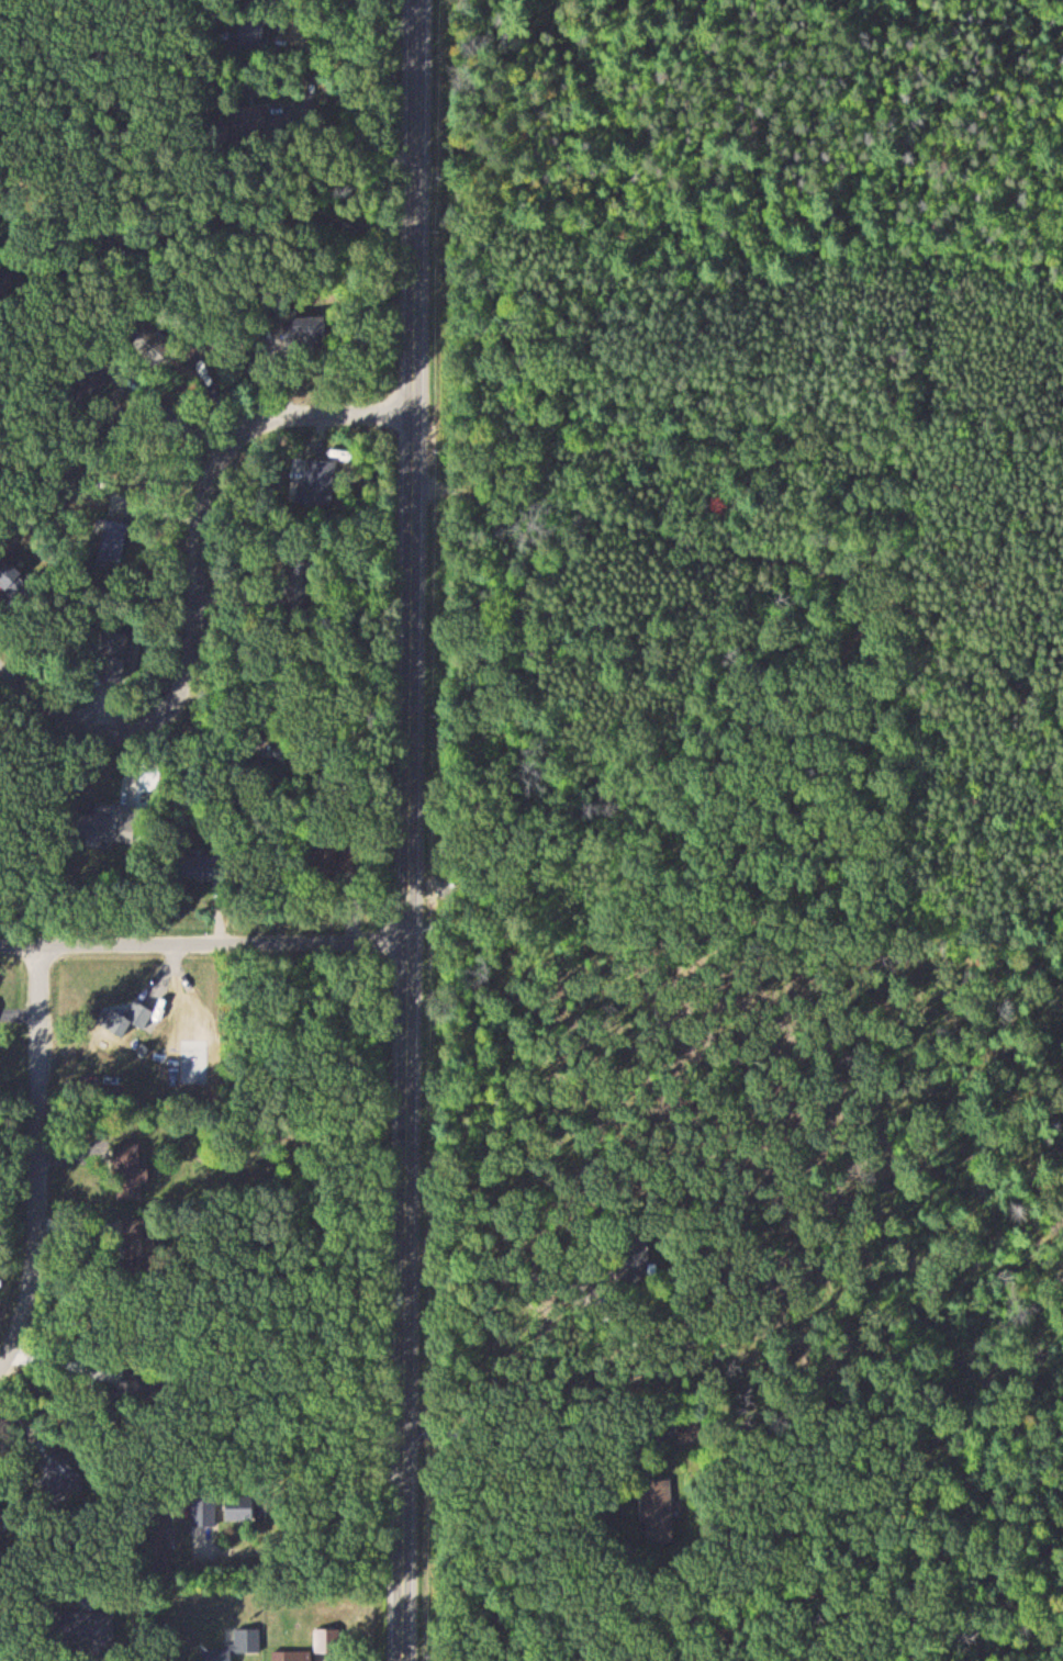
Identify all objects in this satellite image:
building: (251, 119)
building: (307, 333)
building: (315, 485)
building: (114, 547)
building: (7, 576)
road: (197, 581)
building: (118, 656)
building: (98, 827)
road: (401, 830)
building: (325, 857)
building: (192, 867)
road: (202, 945)
road: (42, 1157)
building: (132, 1167)
building: (59, 1482)
building: (205, 1508)
building: (660, 1510)
building: (240, 1512)
building: (86, 1629)
building: (326, 1640)
building: (237, 1646)

